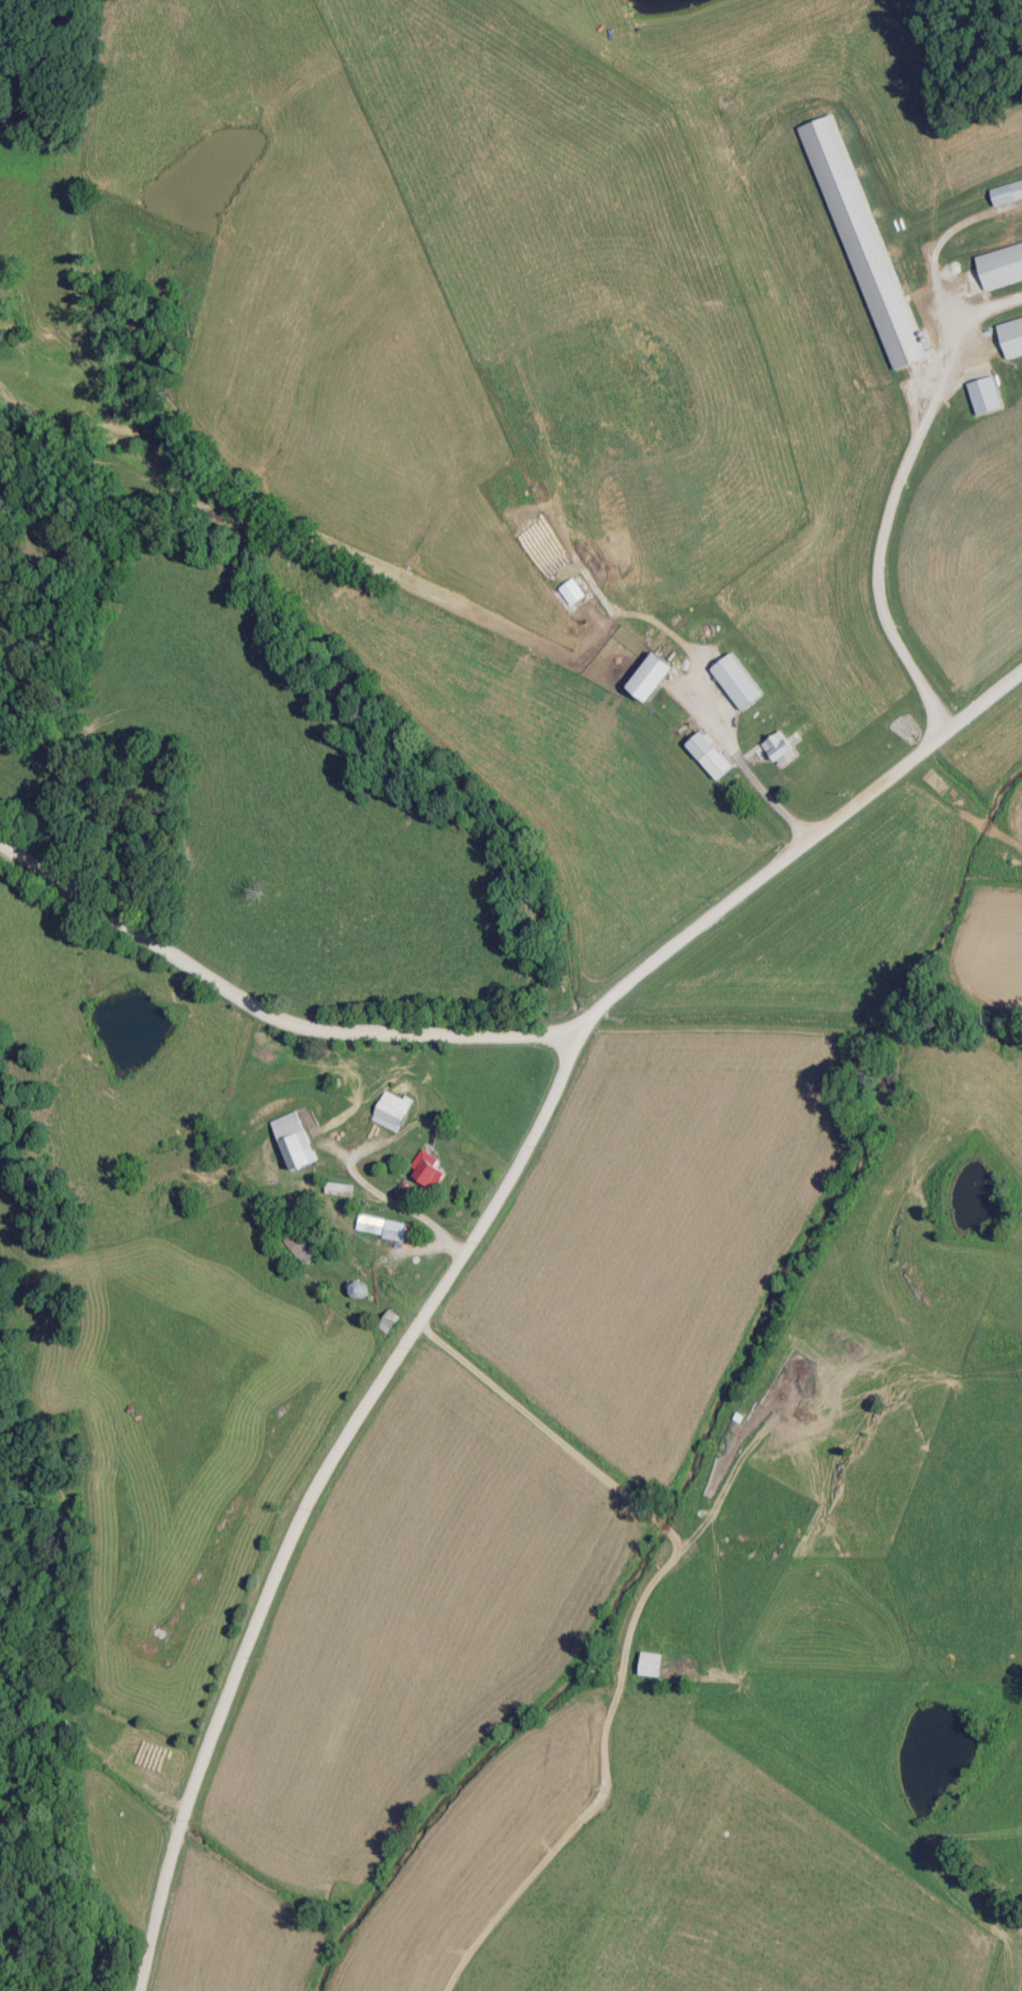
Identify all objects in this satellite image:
building: (1006, 192)
building: (861, 241)
building: (998, 256)
building: (1009, 326)
building: (983, 394)
road: (881, 550)
building: (653, 671)
building: (735, 681)
building: (778, 748)
building: (714, 762)
road: (795, 848)
road: (269, 993)
building: (390, 1110)
building: (293, 1141)
building: (425, 1169)
building: (337, 1188)
building: (385, 1228)
building: (297, 1248)
building: (355, 1289)
road: (311, 1492)
building: (649, 1663)
road: (70, 1956)

